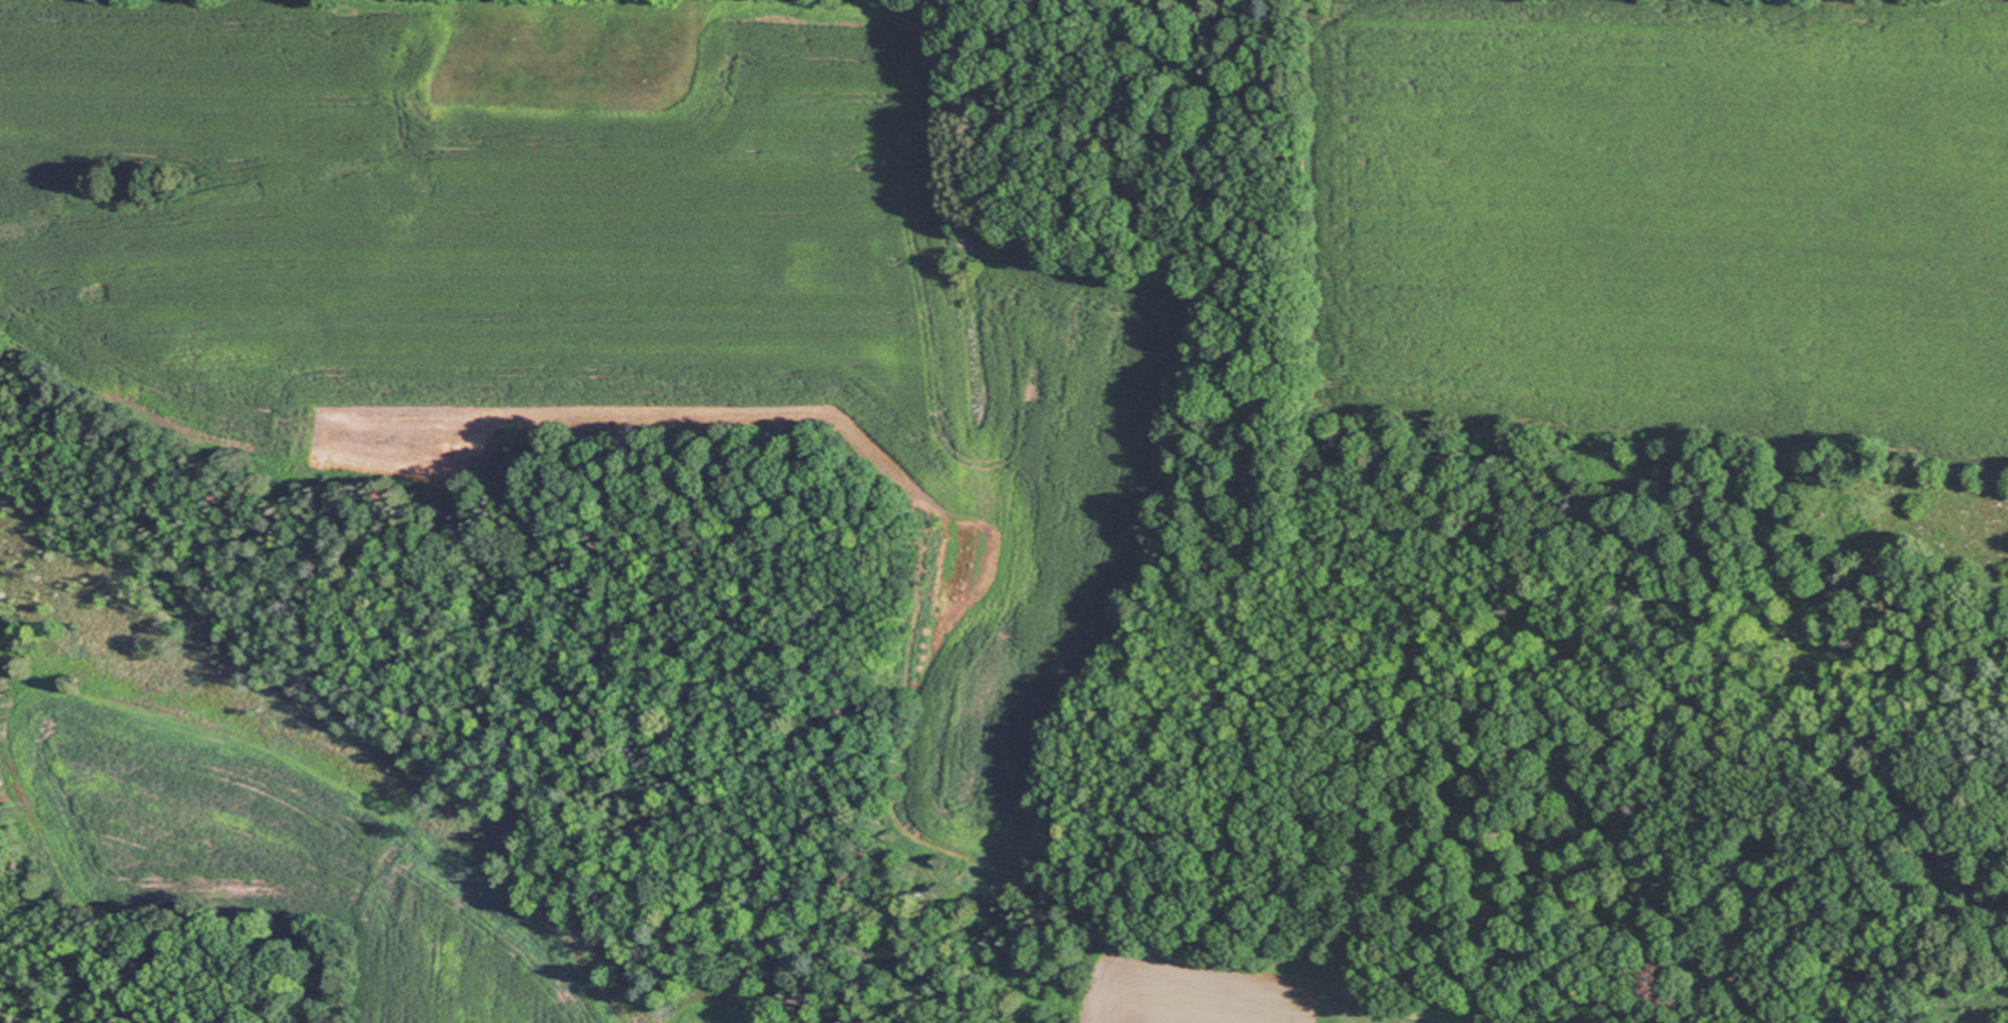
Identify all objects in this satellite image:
building: (1978, 1015)

